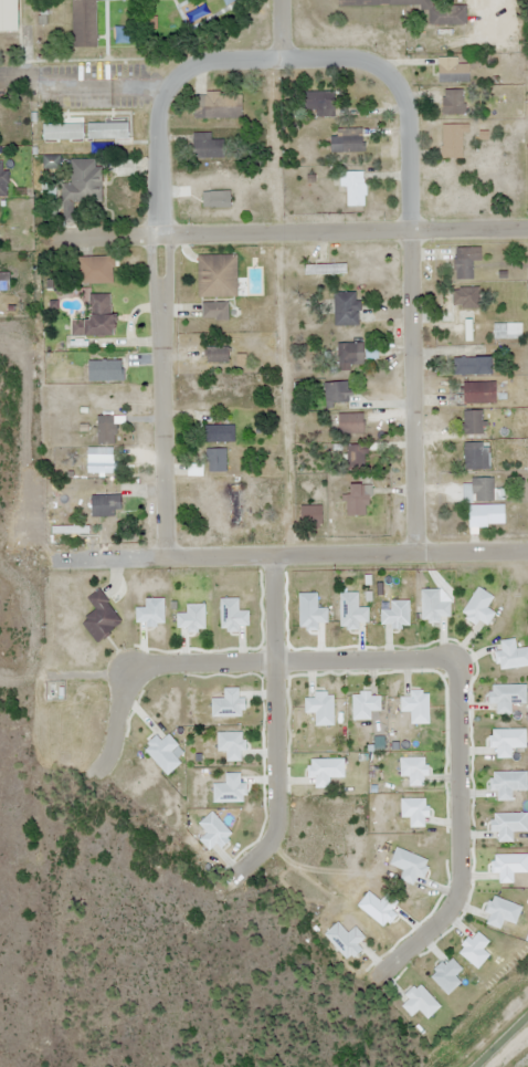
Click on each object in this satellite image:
building: (8, 15)
building: (446, 15)
building: (82, 22)
road: (279, 29)
road: (219, 60)
building: (452, 71)
building: (453, 102)
building: (319, 103)
building: (218, 105)
building: (108, 130)
building: (63, 132)
building: (347, 139)
building: (452, 140)
building: (207, 146)
building: (3, 179)
building: (81, 187)
building: (355, 188)
road: (283, 231)
road: (409, 255)
building: (465, 261)
building: (325, 269)
building: (94, 270)
building: (217, 275)
building: (4, 282)
building: (465, 303)
building: (346, 308)
building: (214, 311)
building: (96, 317)
road: (159, 323)
building: (507, 331)
building: (215, 355)
building: (350, 355)
building: (473, 365)
building: (99, 381)
building: (229, 390)
building: (478, 393)
building: (336, 394)
building: (473, 422)
building: (350, 423)
building: (106, 430)
building: (220, 433)
building: (357, 456)
building: (476, 456)
building: (215, 460)
building: (101, 464)
building: (482, 489)
building: (358, 500)
building: (234, 502)
building: (310, 514)
building: (486, 515)
road: (288, 554)
building: (101, 618)
road: (409, 657)
road: (276, 722)

